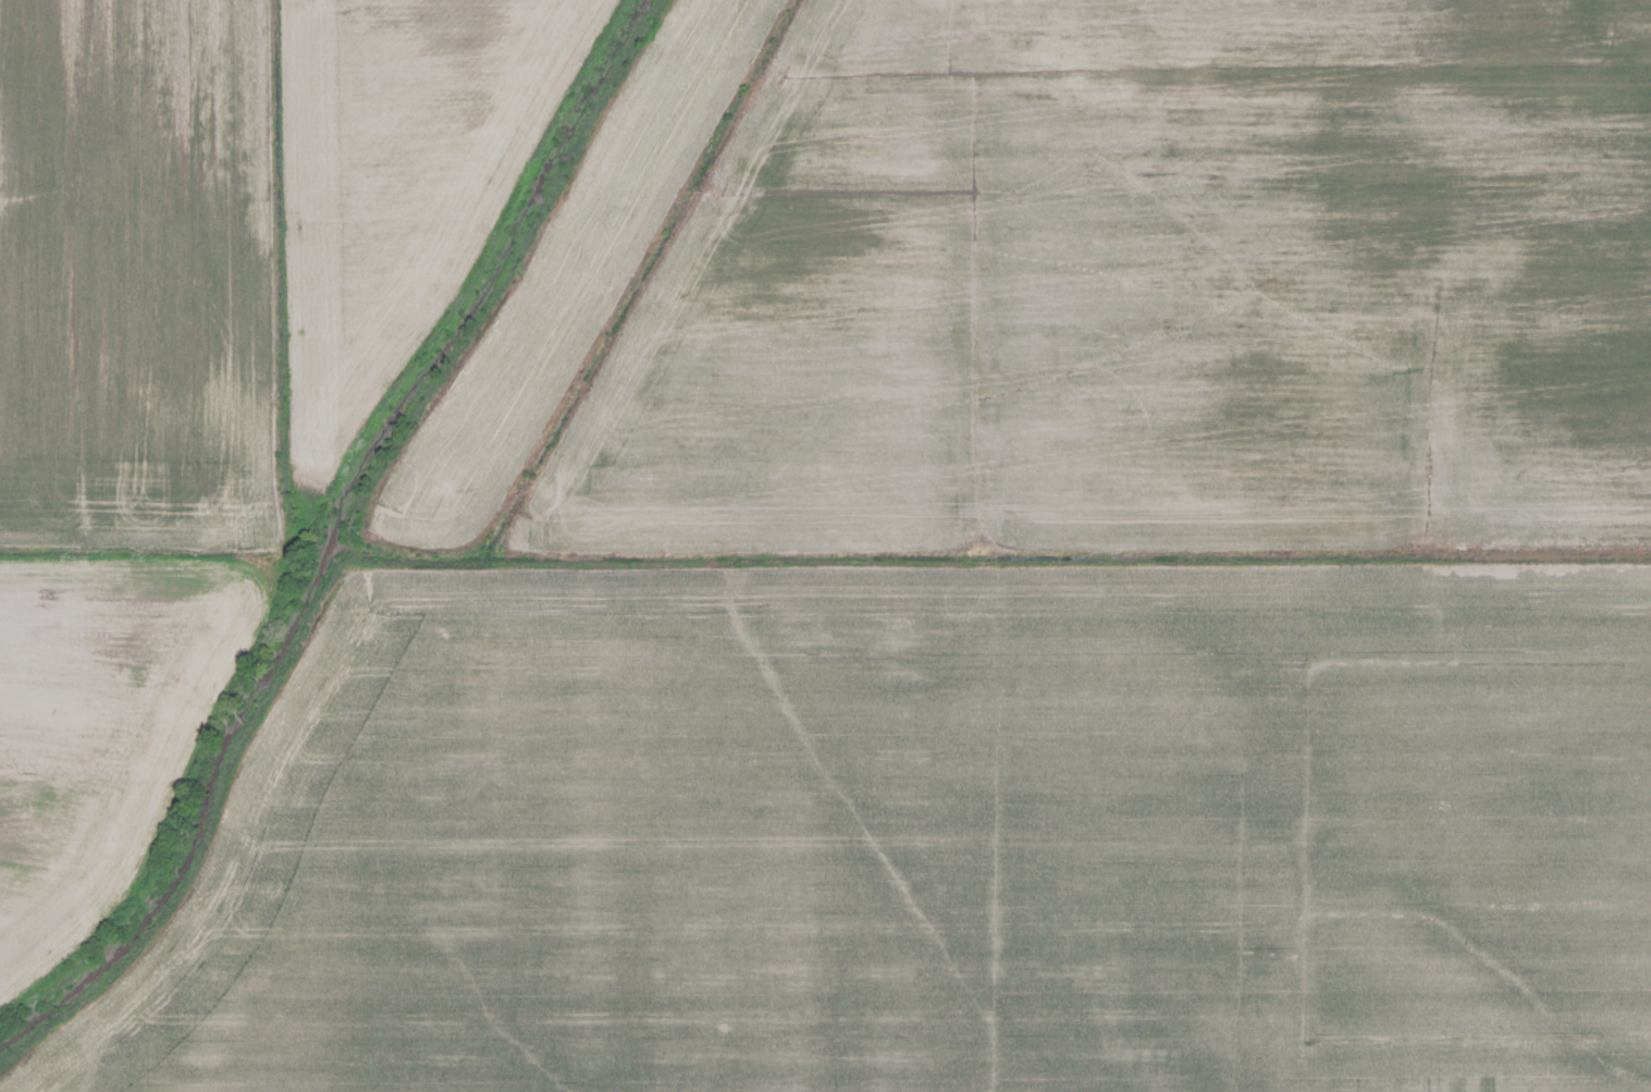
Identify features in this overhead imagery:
road: (54, 575)

